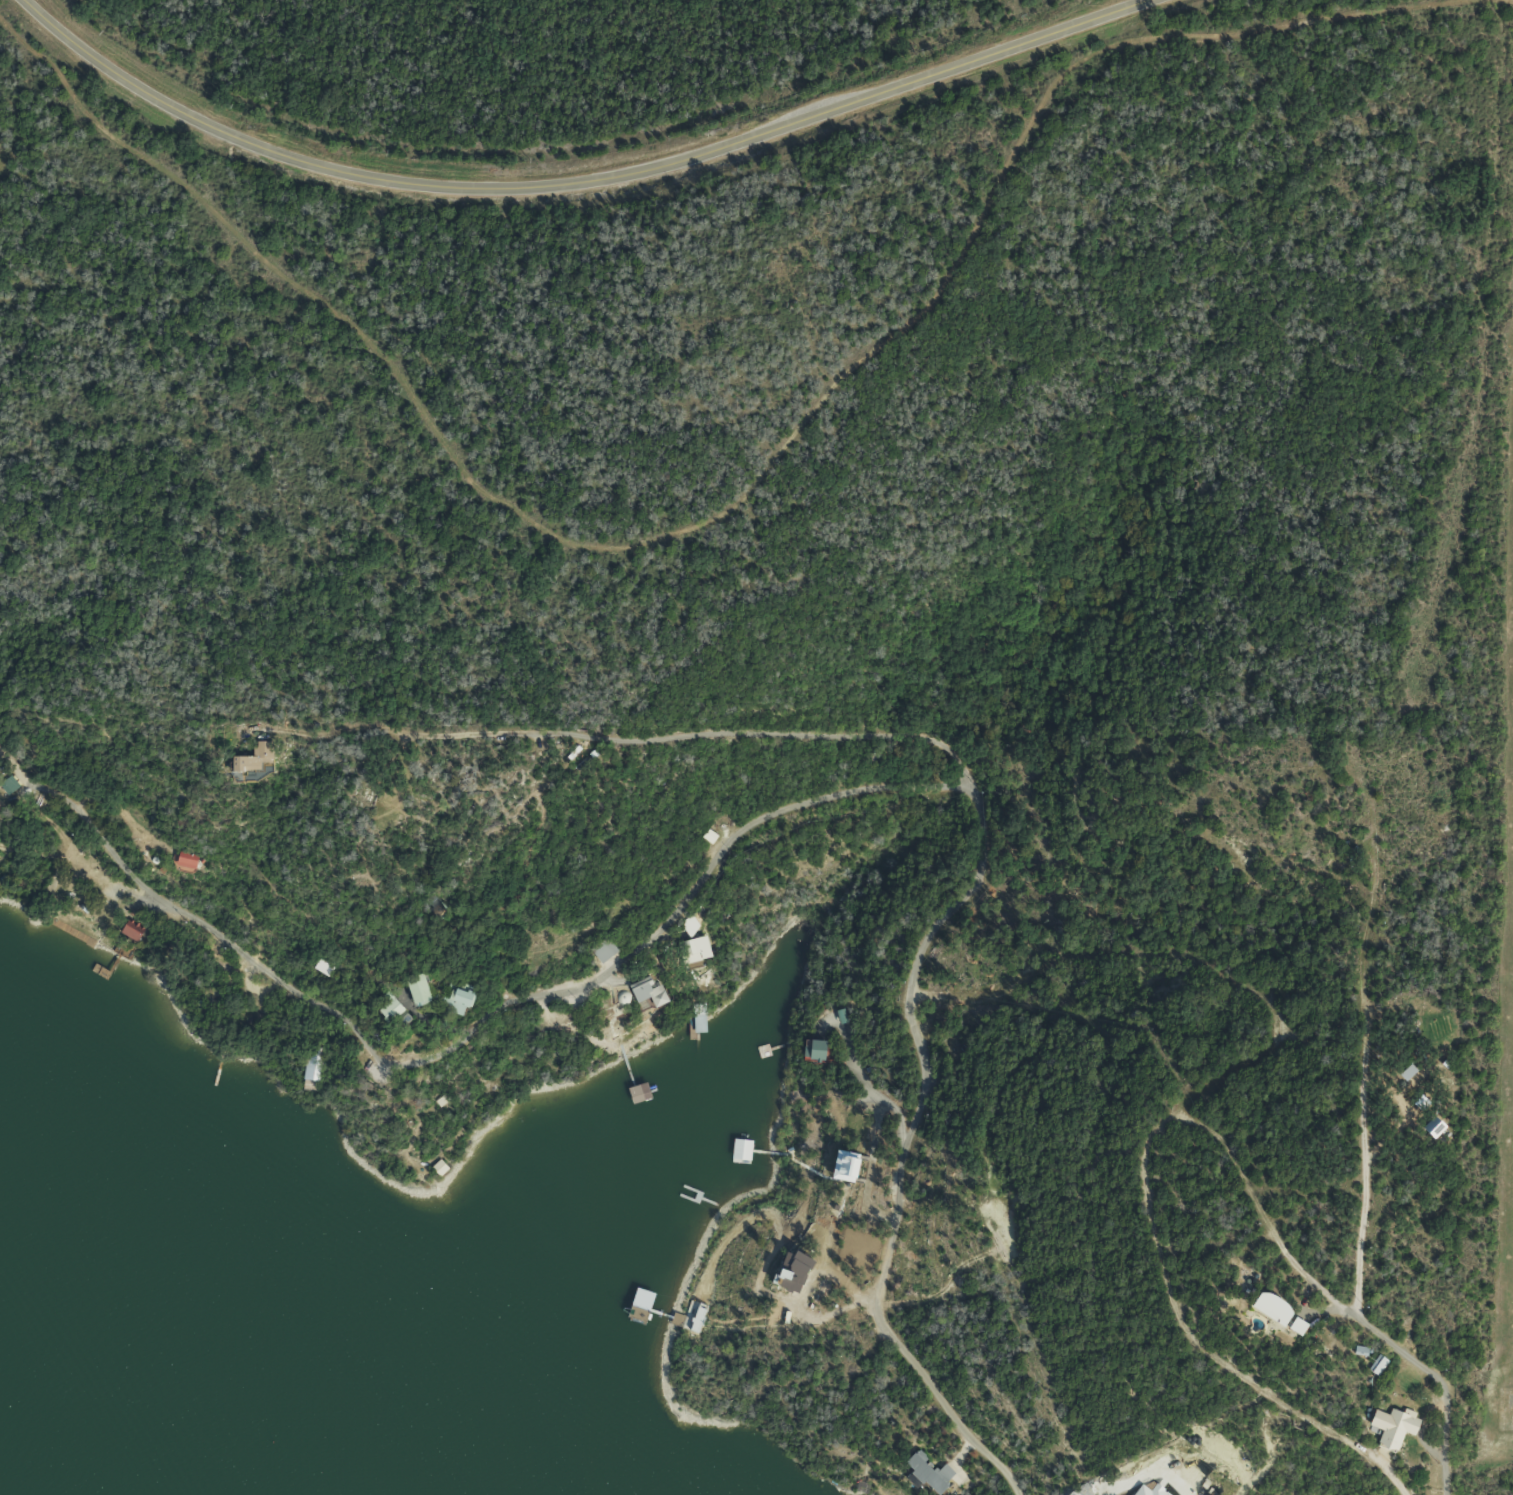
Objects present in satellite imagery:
road: (576, 180)
road: (619, 737)
building: (246, 757)
building: (6, 785)
road: (724, 832)
building: (179, 862)
road: (648, 865)
building: (686, 926)
building: (126, 931)
building: (598, 949)
building: (688, 953)
building: (644, 991)
building: (453, 992)
building: (382, 1009)
building: (698, 1024)
road: (1161, 1033)
building: (809, 1050)
building: (641, 1100)
road: (1361, 1128)
road: (1261, 1219)
road: (1148, 1224)
building: (1269, 1309)
airport runway: (1510, 1325)
building: (1296, 1327)
building: (1376, 1366)
road: (1436, 1380)
building: (1393, 1430)
road: (1147, 1475)

